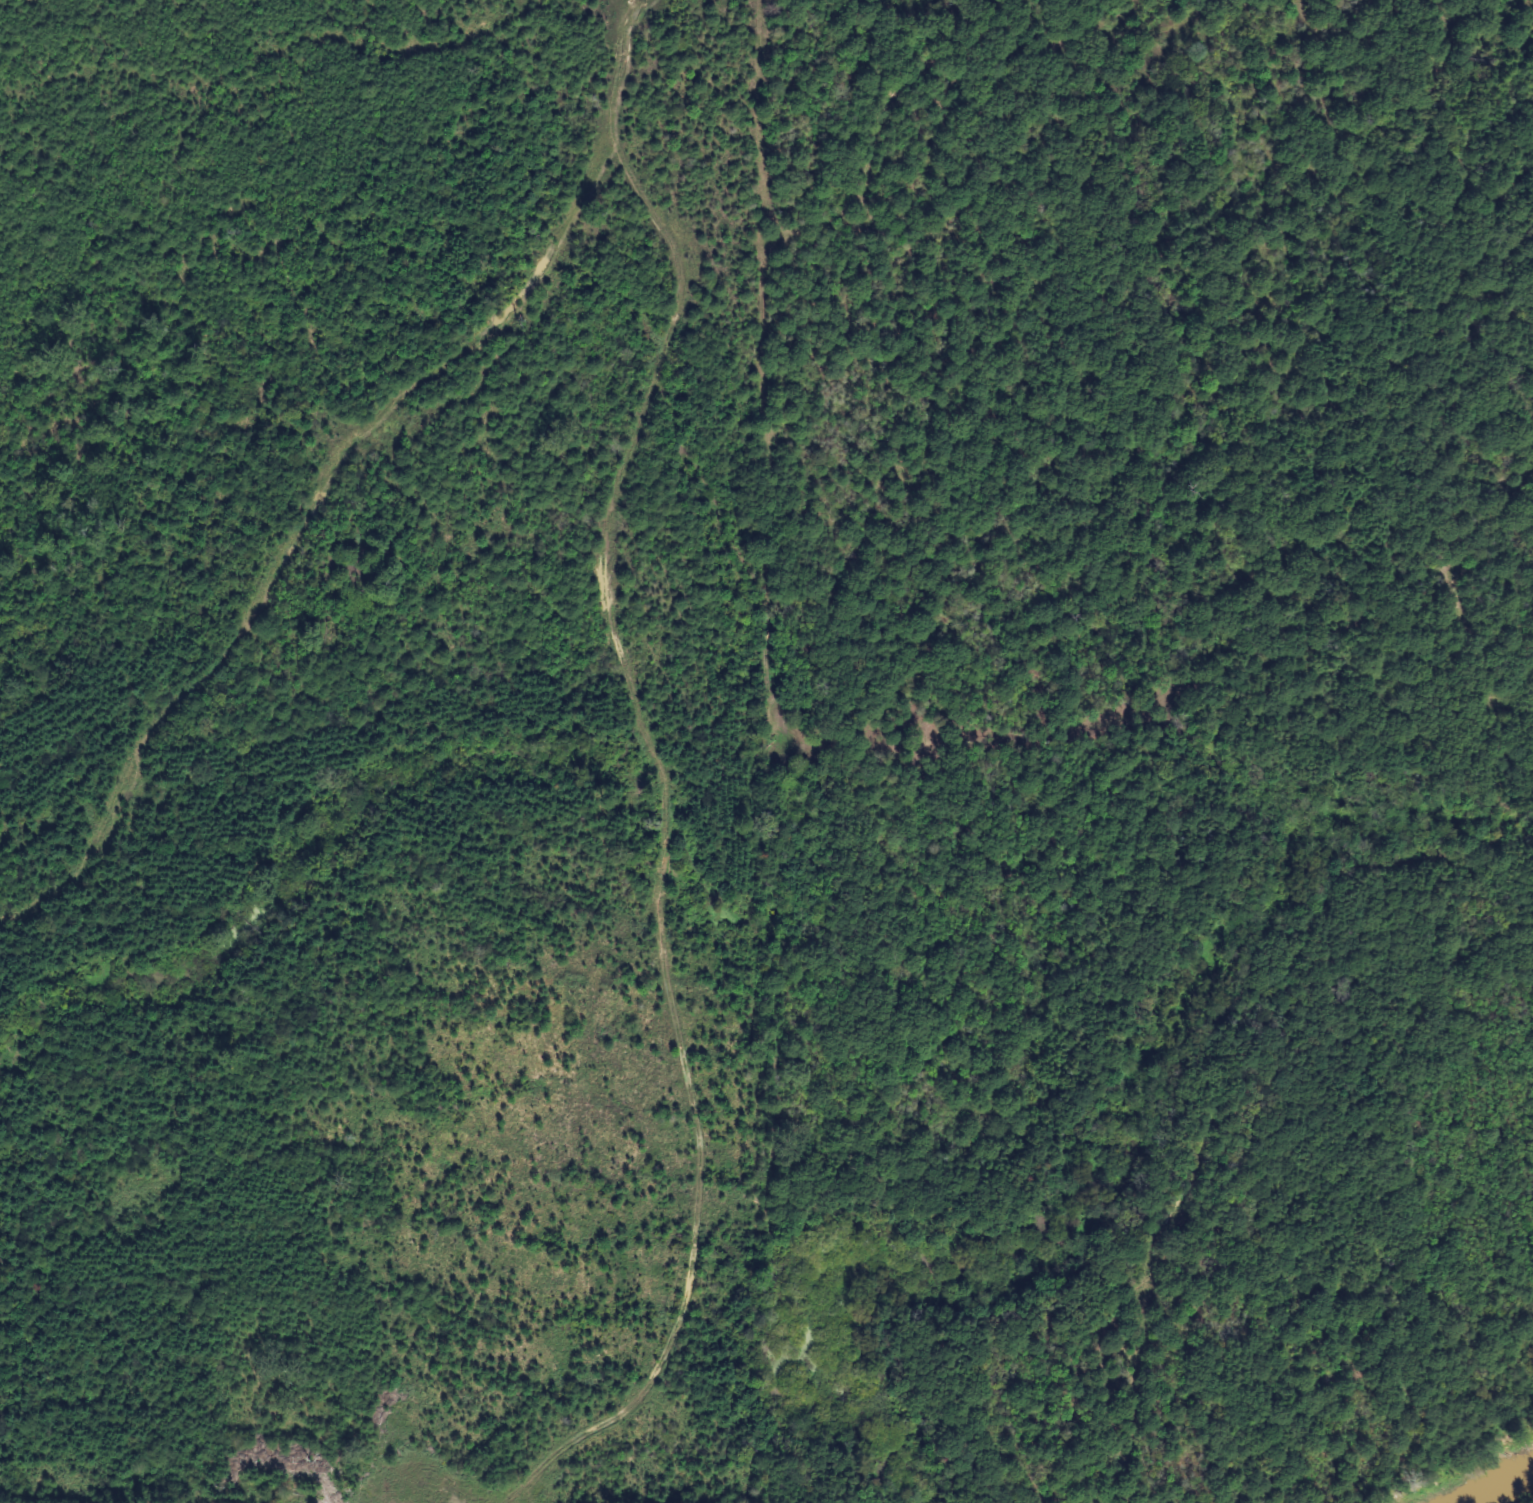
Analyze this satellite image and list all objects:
river: (1506, 1490)

